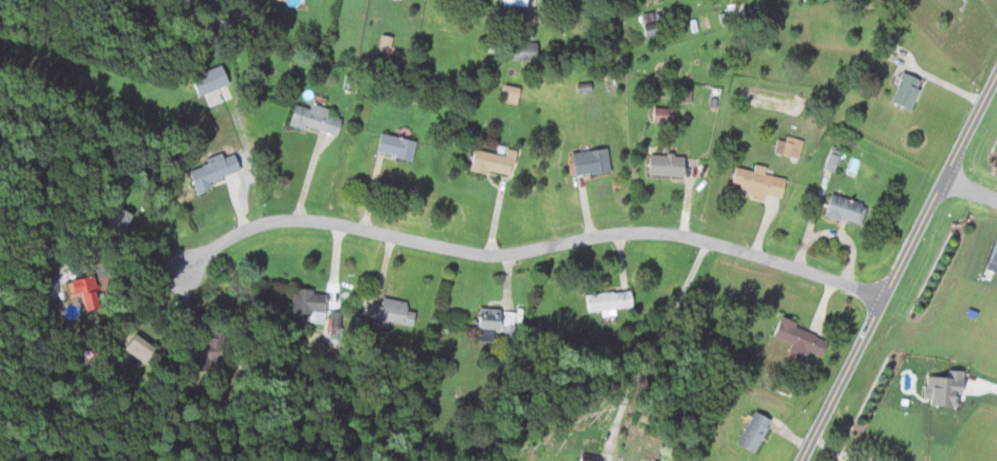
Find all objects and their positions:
building: (515, 2)
building: (652, 24)
building: (386, 43)
building: (524, 50)
road: (937, 78)
building: (210, 80)
building: (908, 90)
building: (510, 93)
building: (661, 114)
building: (315, 118)
building: (789, 145)
building: (396, 146)
building: (833, 159)
building: (591, 160)
building: (493, 161)
building: (666, 164)
building: (214, 170)
road: (310, 172)
building: (759, 182)
road: (971, 188)
building: (846, 209)
road: (532, 248)
building: (994, 260)
road: (899, 266)
road: (130, 267)
building: (86, 290)
building: (609, 301)
building: (310, 304)
building: (393, 311)
building: (496, 325)
building: (799, 338)
road: (655, 340)
building: (140, 348)
building: (208, 352)
road: (987, 385)
building: (944, 388)
building: (754, 431)
building: (587, 459)

